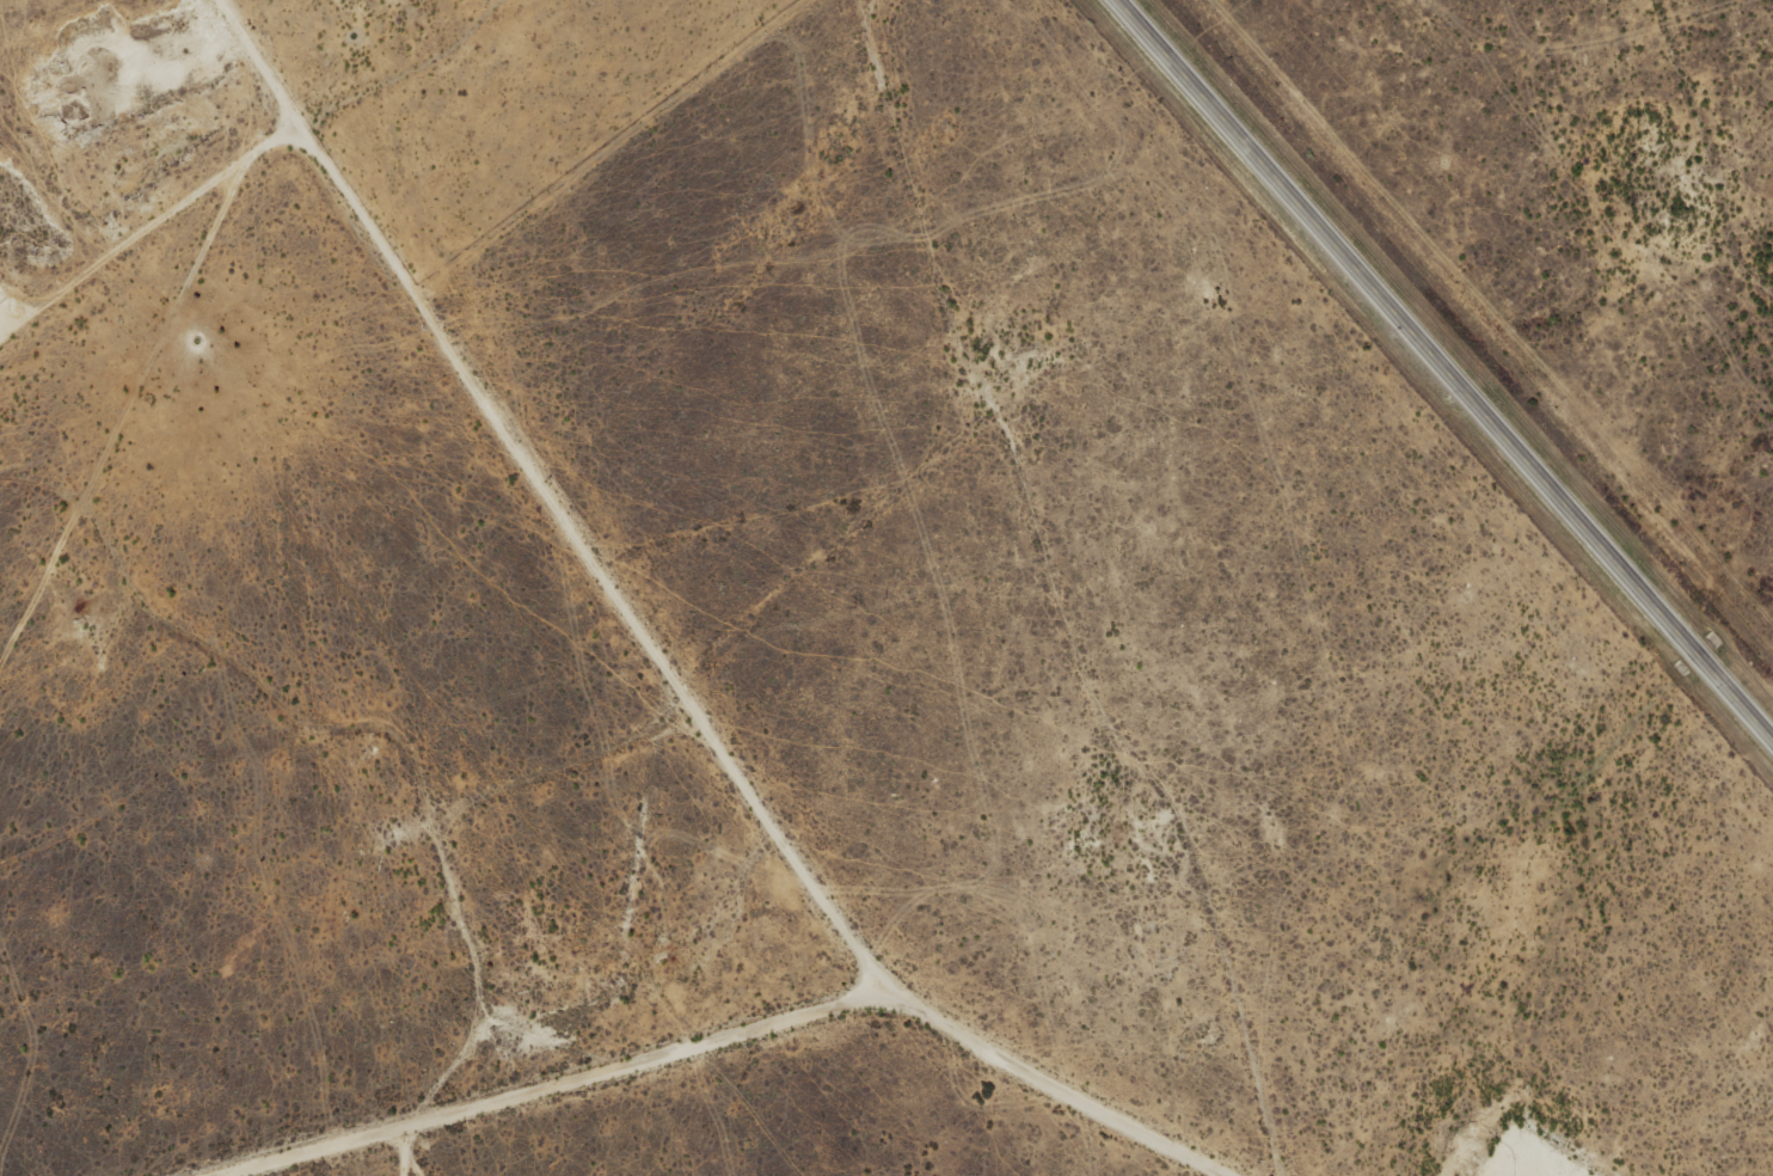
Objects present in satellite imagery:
road: (1443, 369)
road: (691, 1002)

